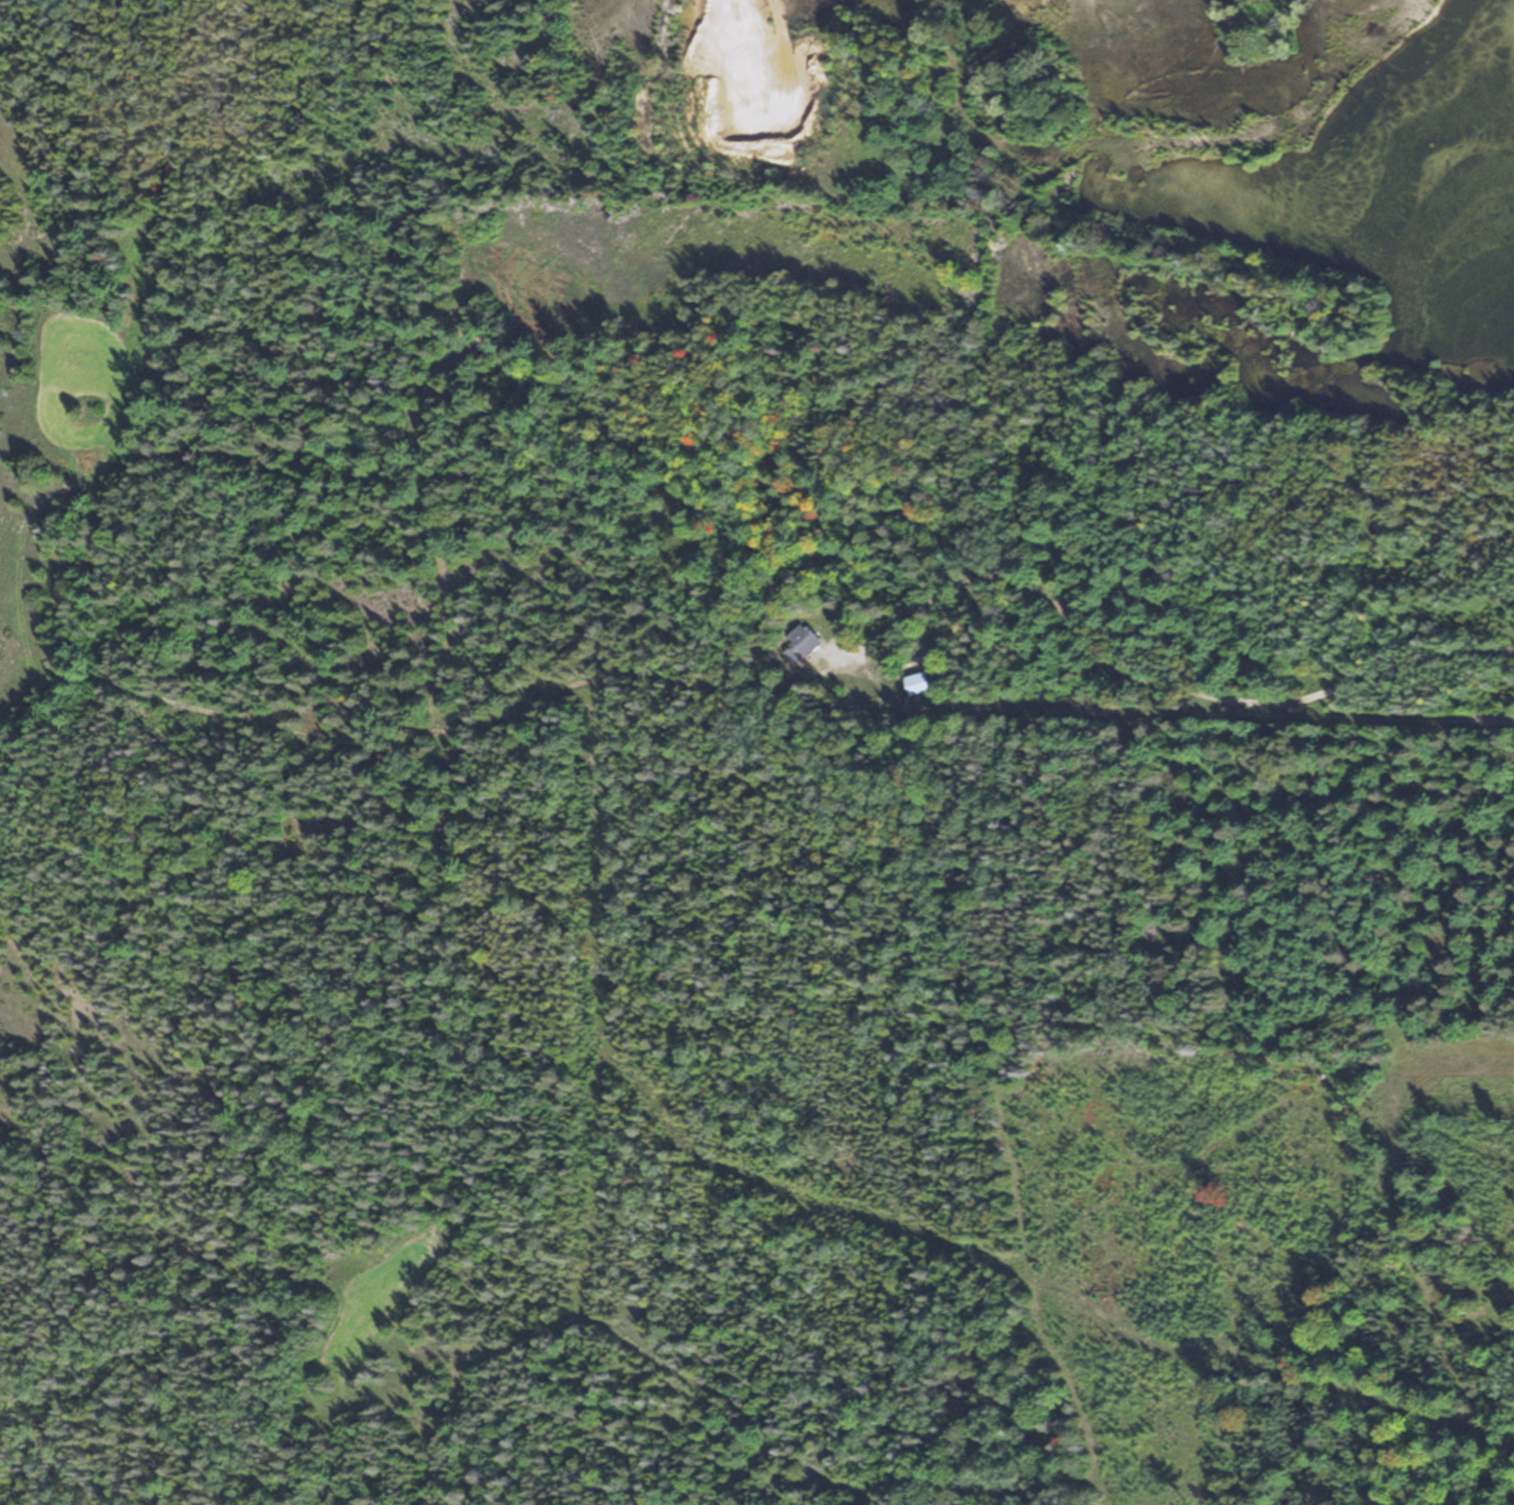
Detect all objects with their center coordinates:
building: (805, 648)
road: (1166, 685)
building: (921, 686)

